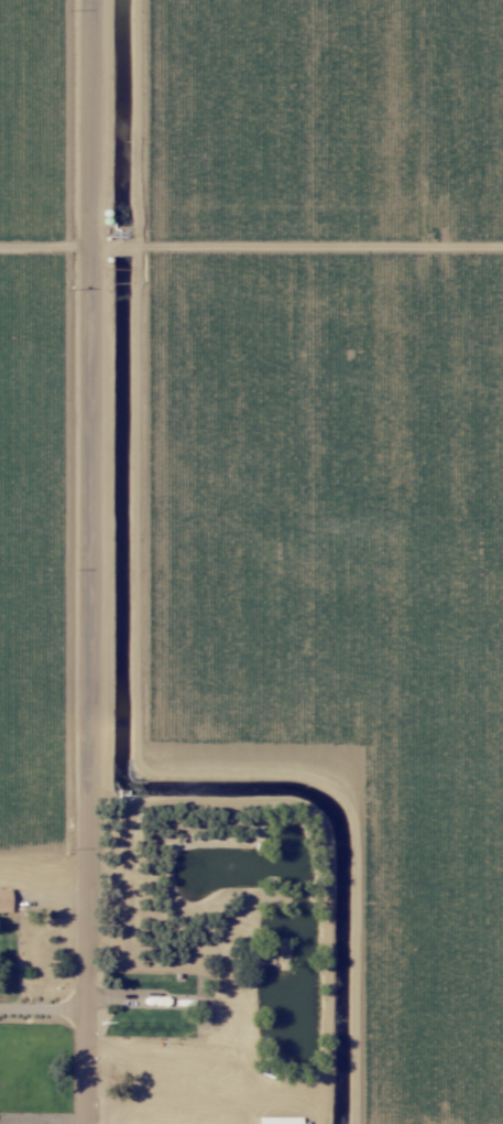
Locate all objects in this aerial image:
crop: (47, 392)
crop: (317, 477)
road: (73, 562)
crop: (215, 953)
crop: (47, 954)
road: (35, 1007)

